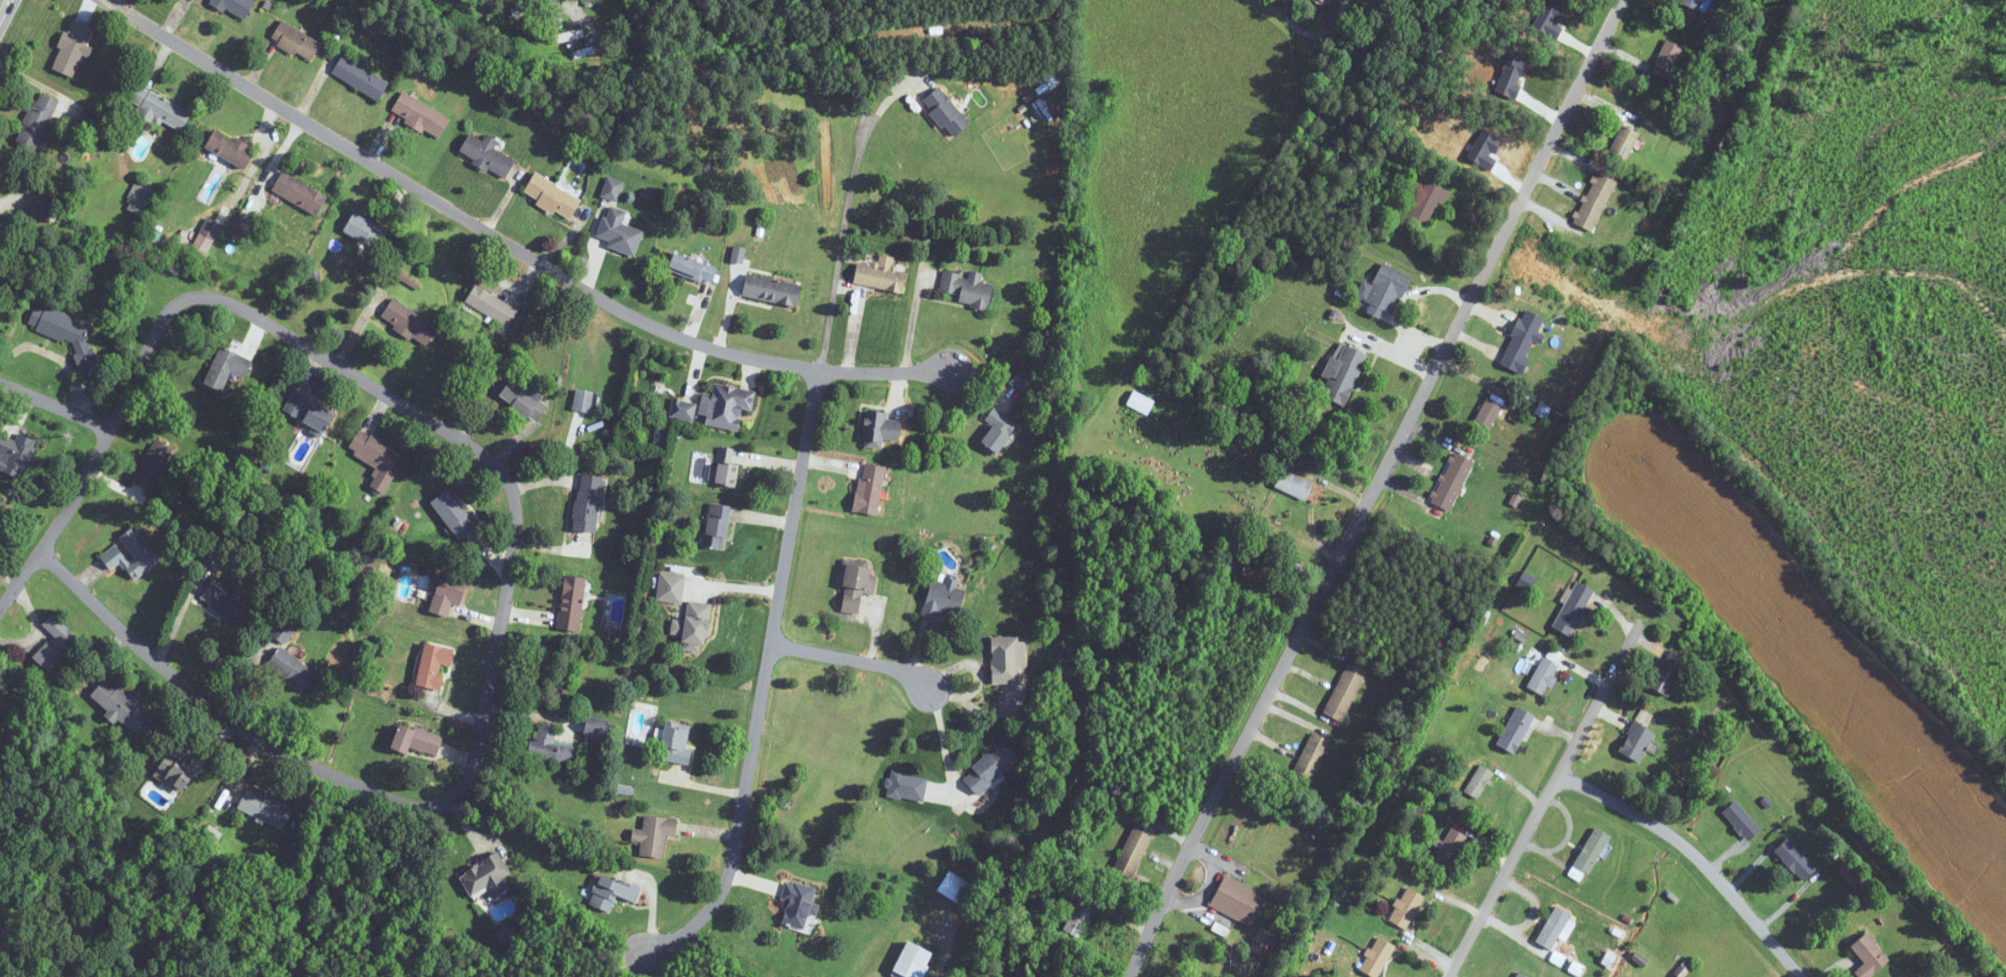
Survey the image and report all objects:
building: (1321, 1)
building: (1696, 1)
building: (588, 2)
road: (2, 6)
building: (236, 7)
building: (610, 11)
road: (572, 12)
building: (567, 36)
building: (296, 41)
building: (73, 48)
building: (586, 51)
building: (1665, 59)
building: (361, 78)
building: (1049, 84)
building: (161, 109)
building: (947, 113)
building: (421, 115)
building: (36, 121)
building: (1623, 143)
building: (231, 148)
building: (486, 155)
building: (612, 189)
building: (300, 194)
building: (552, 196)
building: (140, 198)
road: (11, 201)
building: (1594, 202)
building: (1426, 203)
building: (45, 208)
building: (243, 226)
building: (211, 228)
building: (365, 230)
building: (620, 231)
road: (842, 238)
road: (523, 250)
building: (739, 254)
building: (691, 267)
building: (881, 275)
building: (968, 288)
building: (773, 290)
building: (1385, 292)
building: (493, 306)
building: (410, 322)
building: (65, 333)
building: (1522, 341)
building: (228, 368)
building: (1341, 373)
building: (1021, 380)
building: (524, 399)
building: (583, 400)
road: (57, 402)
building: (1139, 403)
building: (727, 405)
building: (683, 409)
building: (310, 413)
building: (1487, 413)
building: (880, 429)
building: (999, 431)
road: (102, 448)
building: (377, 458)
building: (154, 464)
building: (725, 468)
building: (1451, 482)
building: (1293, 485)
road: (1376, 486)
building: (870, 489)
building: (0, 501)
building: (588, 503)
building: (453, 514)
building: (717, 526)
building: (131, 553)
building: (1252, 571)
building: (857, 587)
building: (671, 588)
building: (446, 593)
building: (945, 599)
building: (571, 604)
building: (227, 605)
building: (1572, 609)
building: (694, 626)
building: (283, 631)
building: (56, 643)
road: (850, 659)
building: (1008, 660)
building: (434, 665)
building: (293, 669)
road: (980, 672)
building: (1667, 673)
building: (1542, 677)
road: (762, 692)
building: (1344, 692)
building: (123, 708)
road: (487, 710)
road: (1586, 722)
building: (1514, 731)
building: (417, 741)
building: (1635, 743)
building: (674, 744)
building: (554, 746)
building: (1311, 757)
building: (992, 768)
building: (184, 771)
building: (1478, 782)
building: (896, 785)
building: (265, 809)
building: (1740, 821)
building: (655, 835)
building: (1134, 849)
building: (1448, 850)
building: (1590, 851)
road: (1699, 854)
building: (1795, 861)
building: (1851, 874)
building: (487, 877)
building: (953, 887)
building: (610, 892)
building: (1237, 900)
building: (796, 903)
building: (1405, 907)
building: (1081, 913)
building: (1553, 928)
building: (1868, 956)
building: (1376, 957)
building: (909, 961)
building: (1519, 975)

